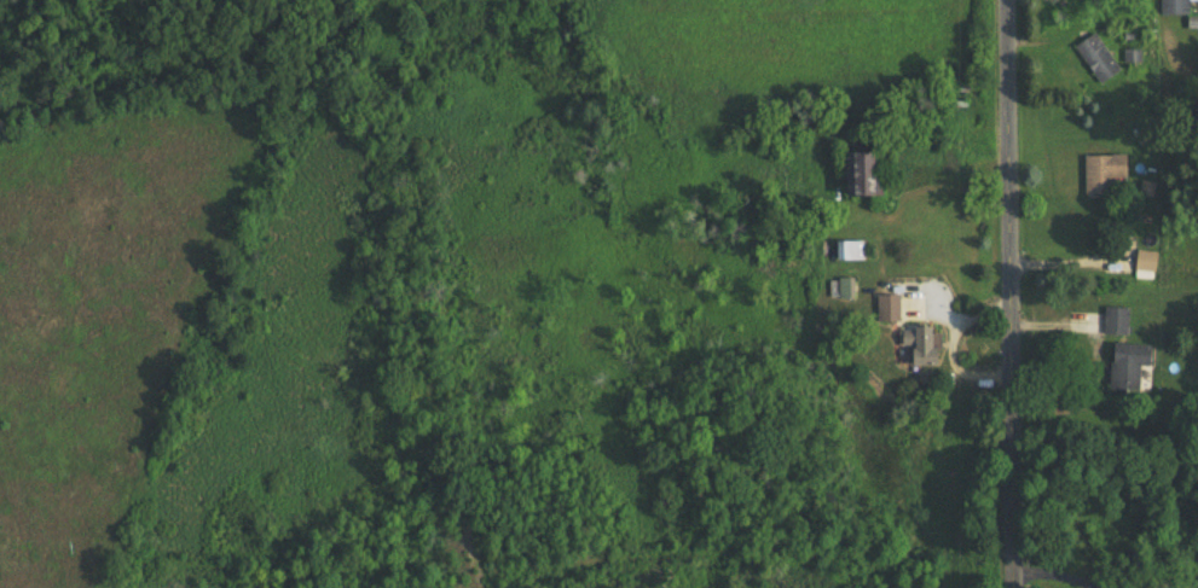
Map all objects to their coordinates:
building: (1175, 7)
building: (1099, 59)
building: (882, 168)
building: (1106, 174)
building: (853, 250)
road: (1075, 252)
building: (1148, 262)
road: (1011, 293)
building: (891, 309)
building: (1117, 321)
building: (926, 343)
building: (1132, 366)
road: (1078, 561)

